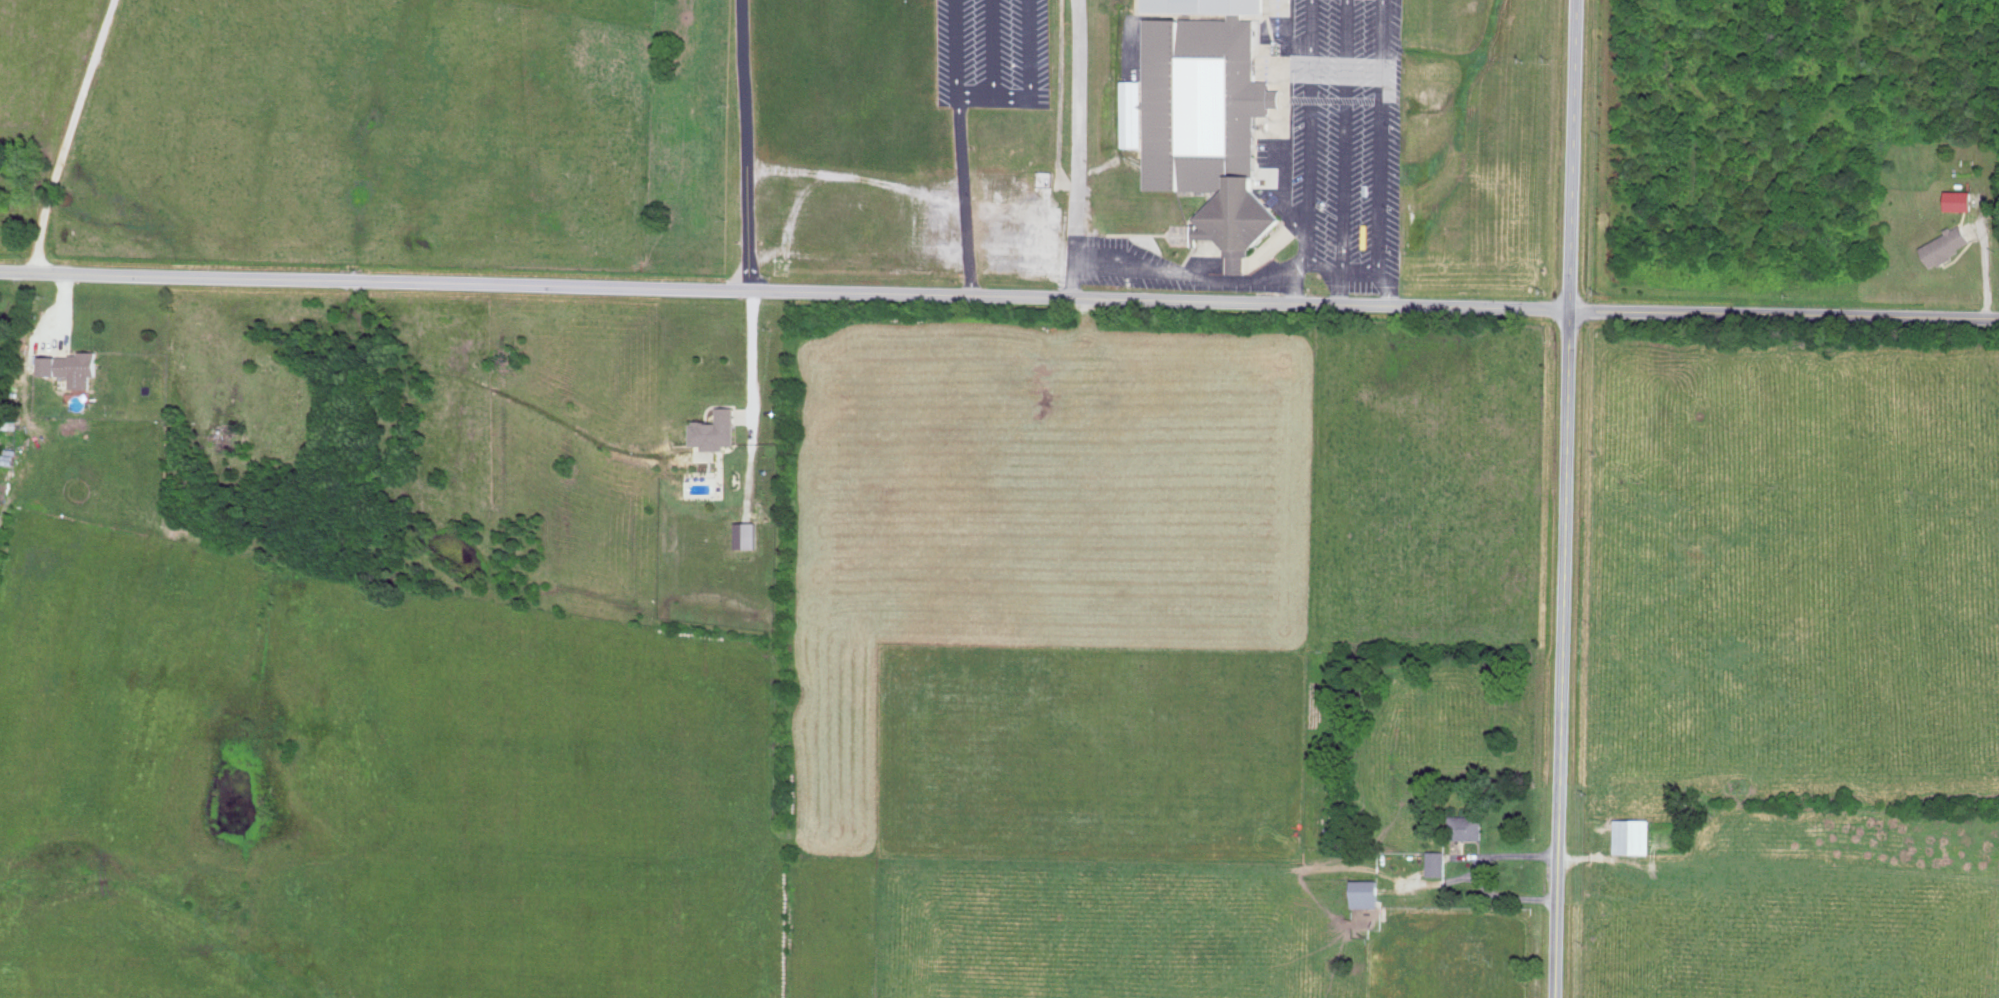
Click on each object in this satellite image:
building: (1203, 117)
road: (74, 135)
road: (1345, 137)
road: (1308, 143)
road: (749, 144)
road: (963, 147)
road: (1570, 155)
railway: (56, 172)
building: (1961, 200)
building: (1947, 244)
road: (1324, 263)
road: (1353, 271)
road: (1176, 272)
road: (999, 295)
road: (1389, 295)
road: (752, 360)
building: (72, 367)
building: (716, 429)
building: (747, 534)
road: (1559, 654)
building: (1467, 826)
building: (1633, 835)
building: (1437, 862)
building: (1366, 893)

